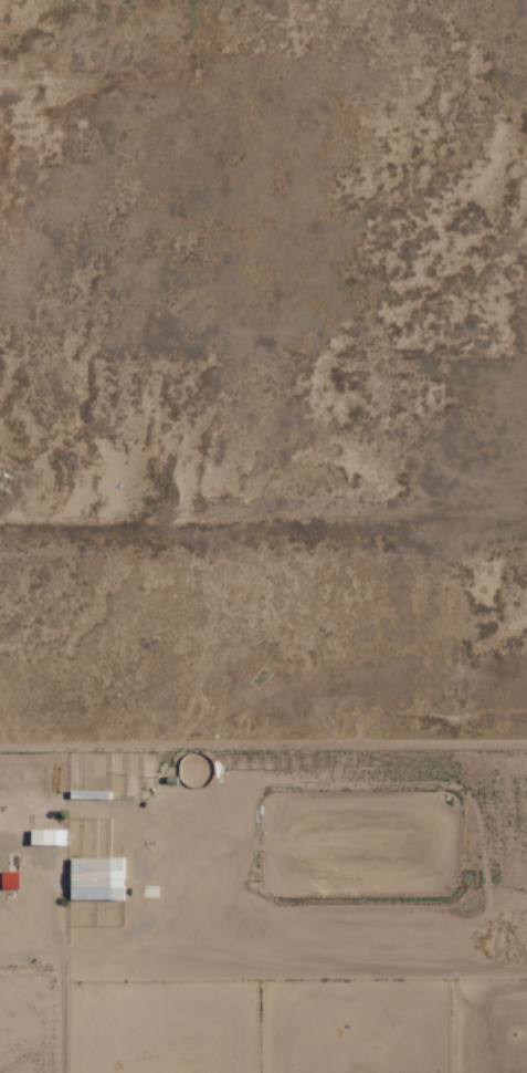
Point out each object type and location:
building: (49, 837)
building: (97, 879)

